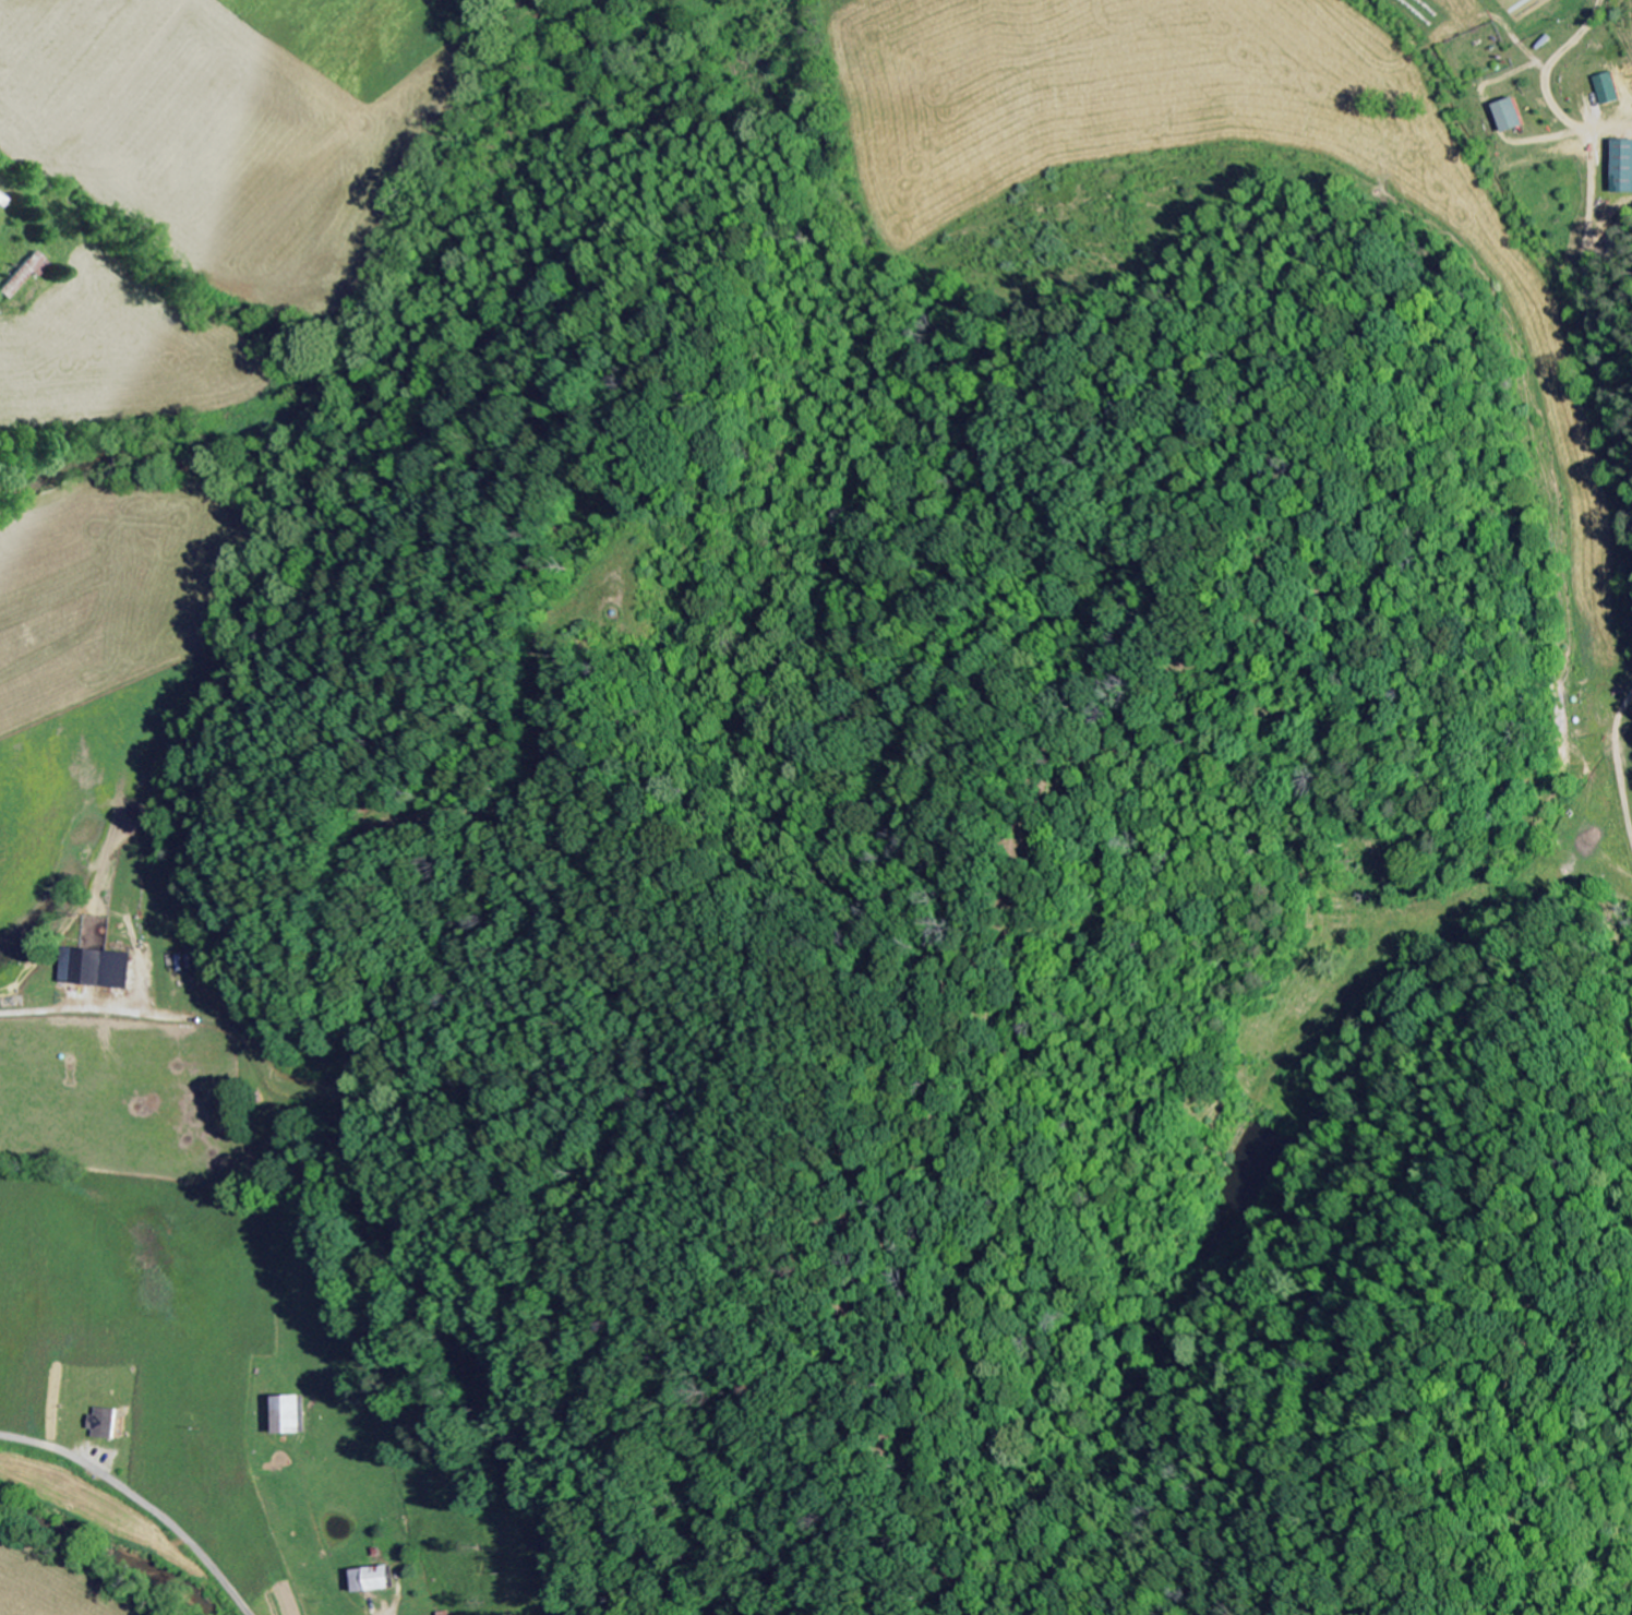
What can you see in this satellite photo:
building: (1606, 88)
building: (1509, 116)
building: (1622, 167)
building: (0, 193)
building: (23, 277)
building: (94, 970)
building: (287, 1417)
building: (103, 1425)
road: (142, 1500)
building: (372, 1581)

